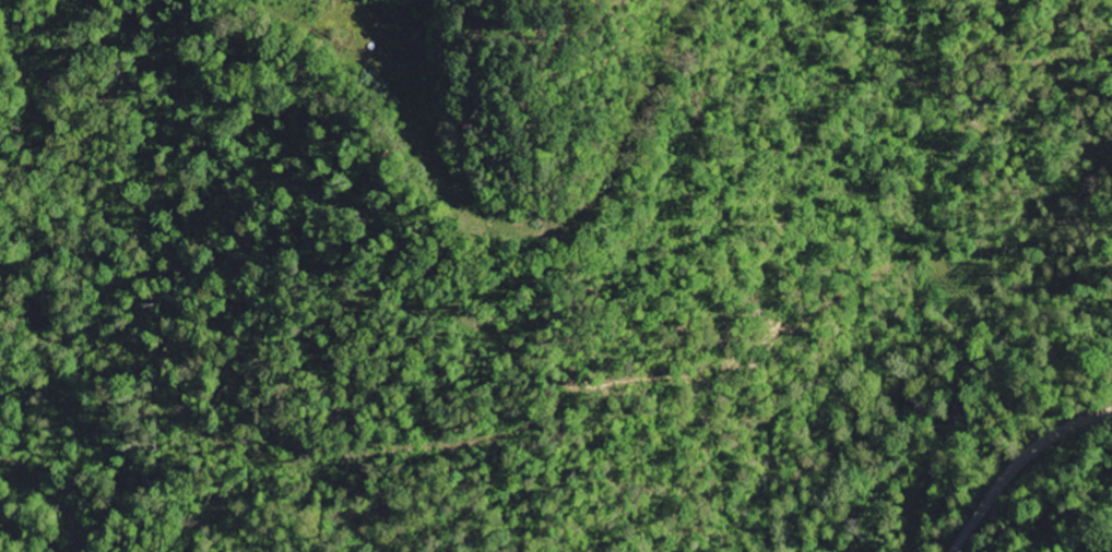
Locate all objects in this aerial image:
road: (1016, 464)

